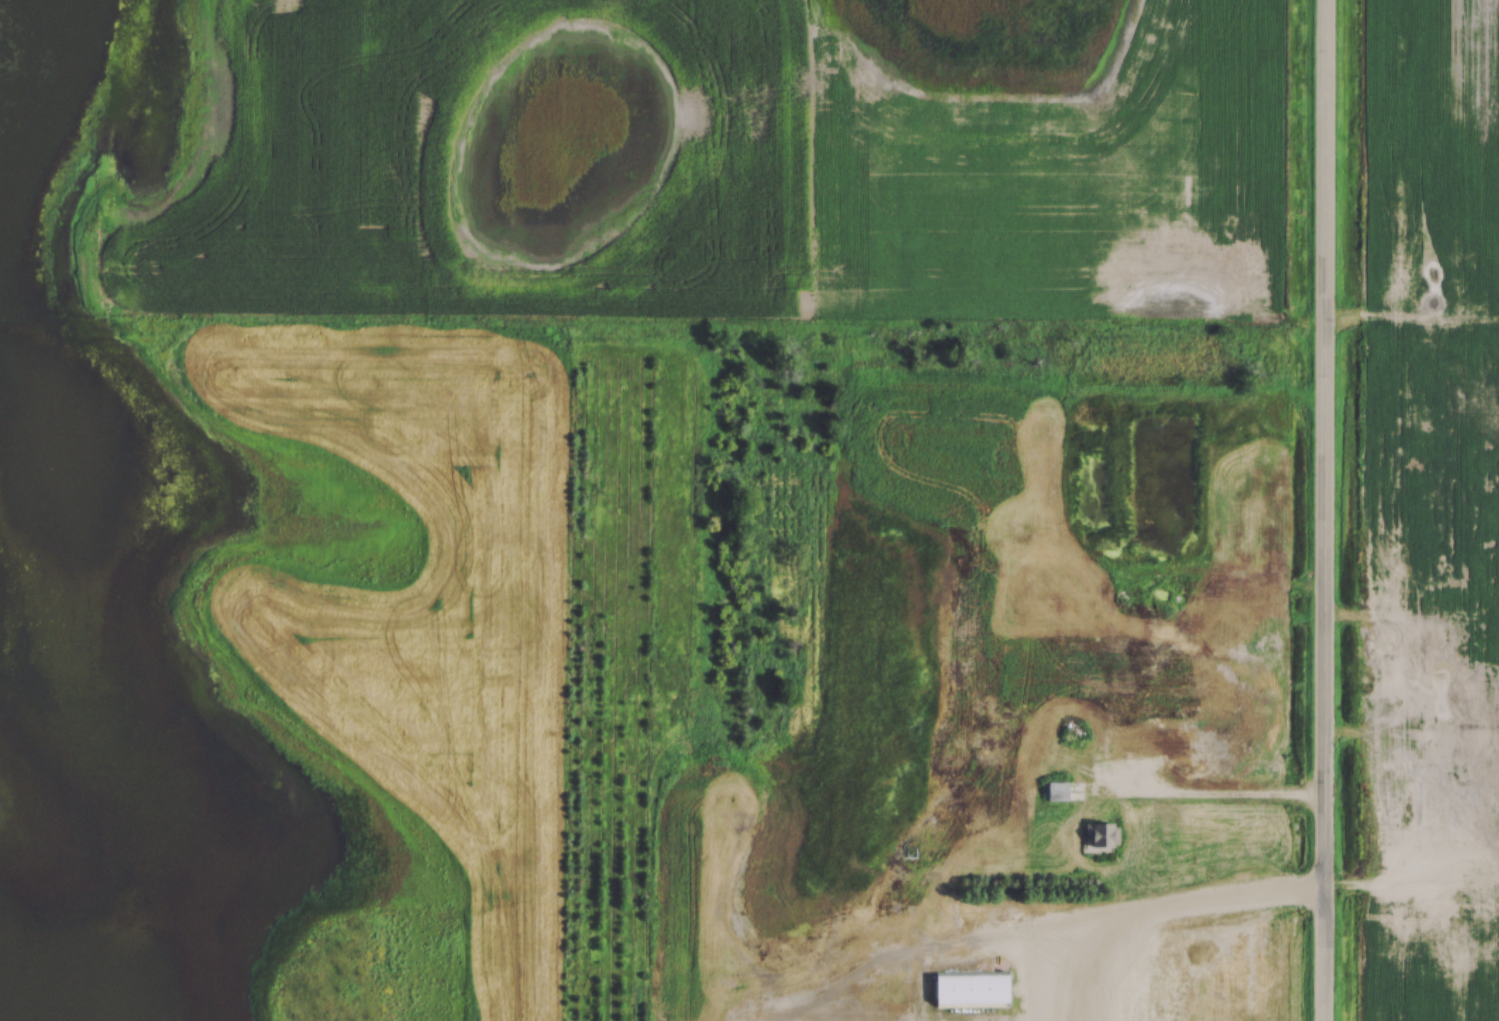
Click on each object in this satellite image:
road: (1329, 510)
building: (1055, 792)
road: (1209, 794)
building: (1103, 837)

